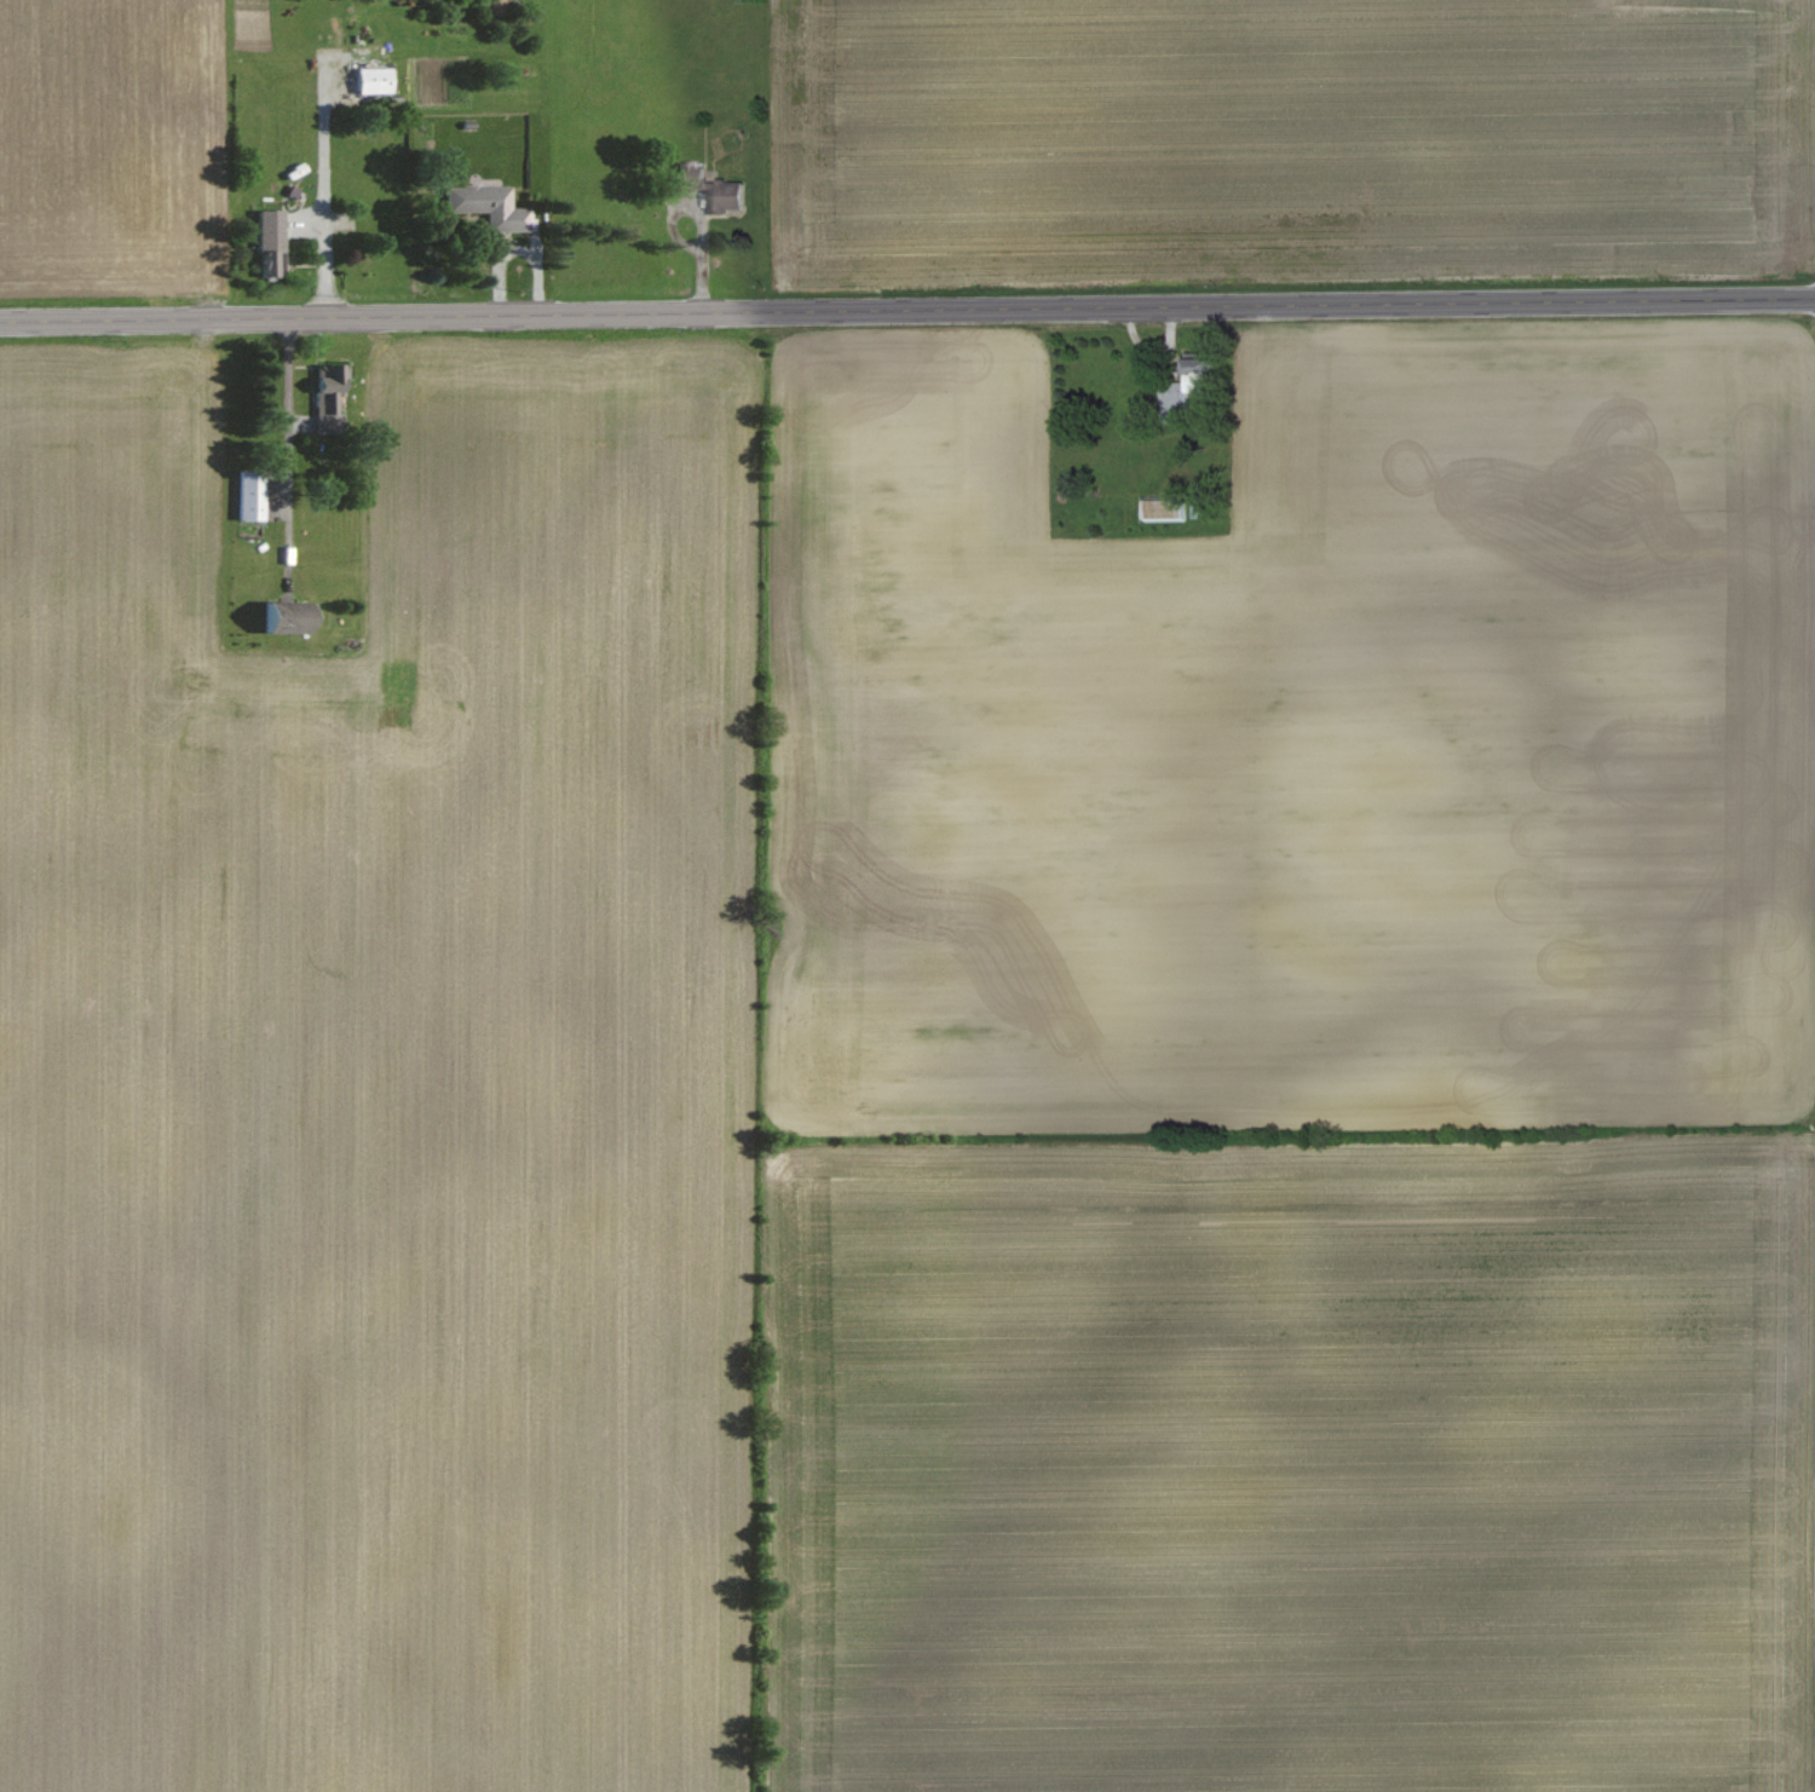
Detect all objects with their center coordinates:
building: (375, 80)
building: (731, 194)
building: (490, 206)
building: (272, 242)
road: (907, 310)
building: (1194, 378)
building: (329, 397)
building: (250, 495)
building: (1168, 507)
building: (290, 616)

